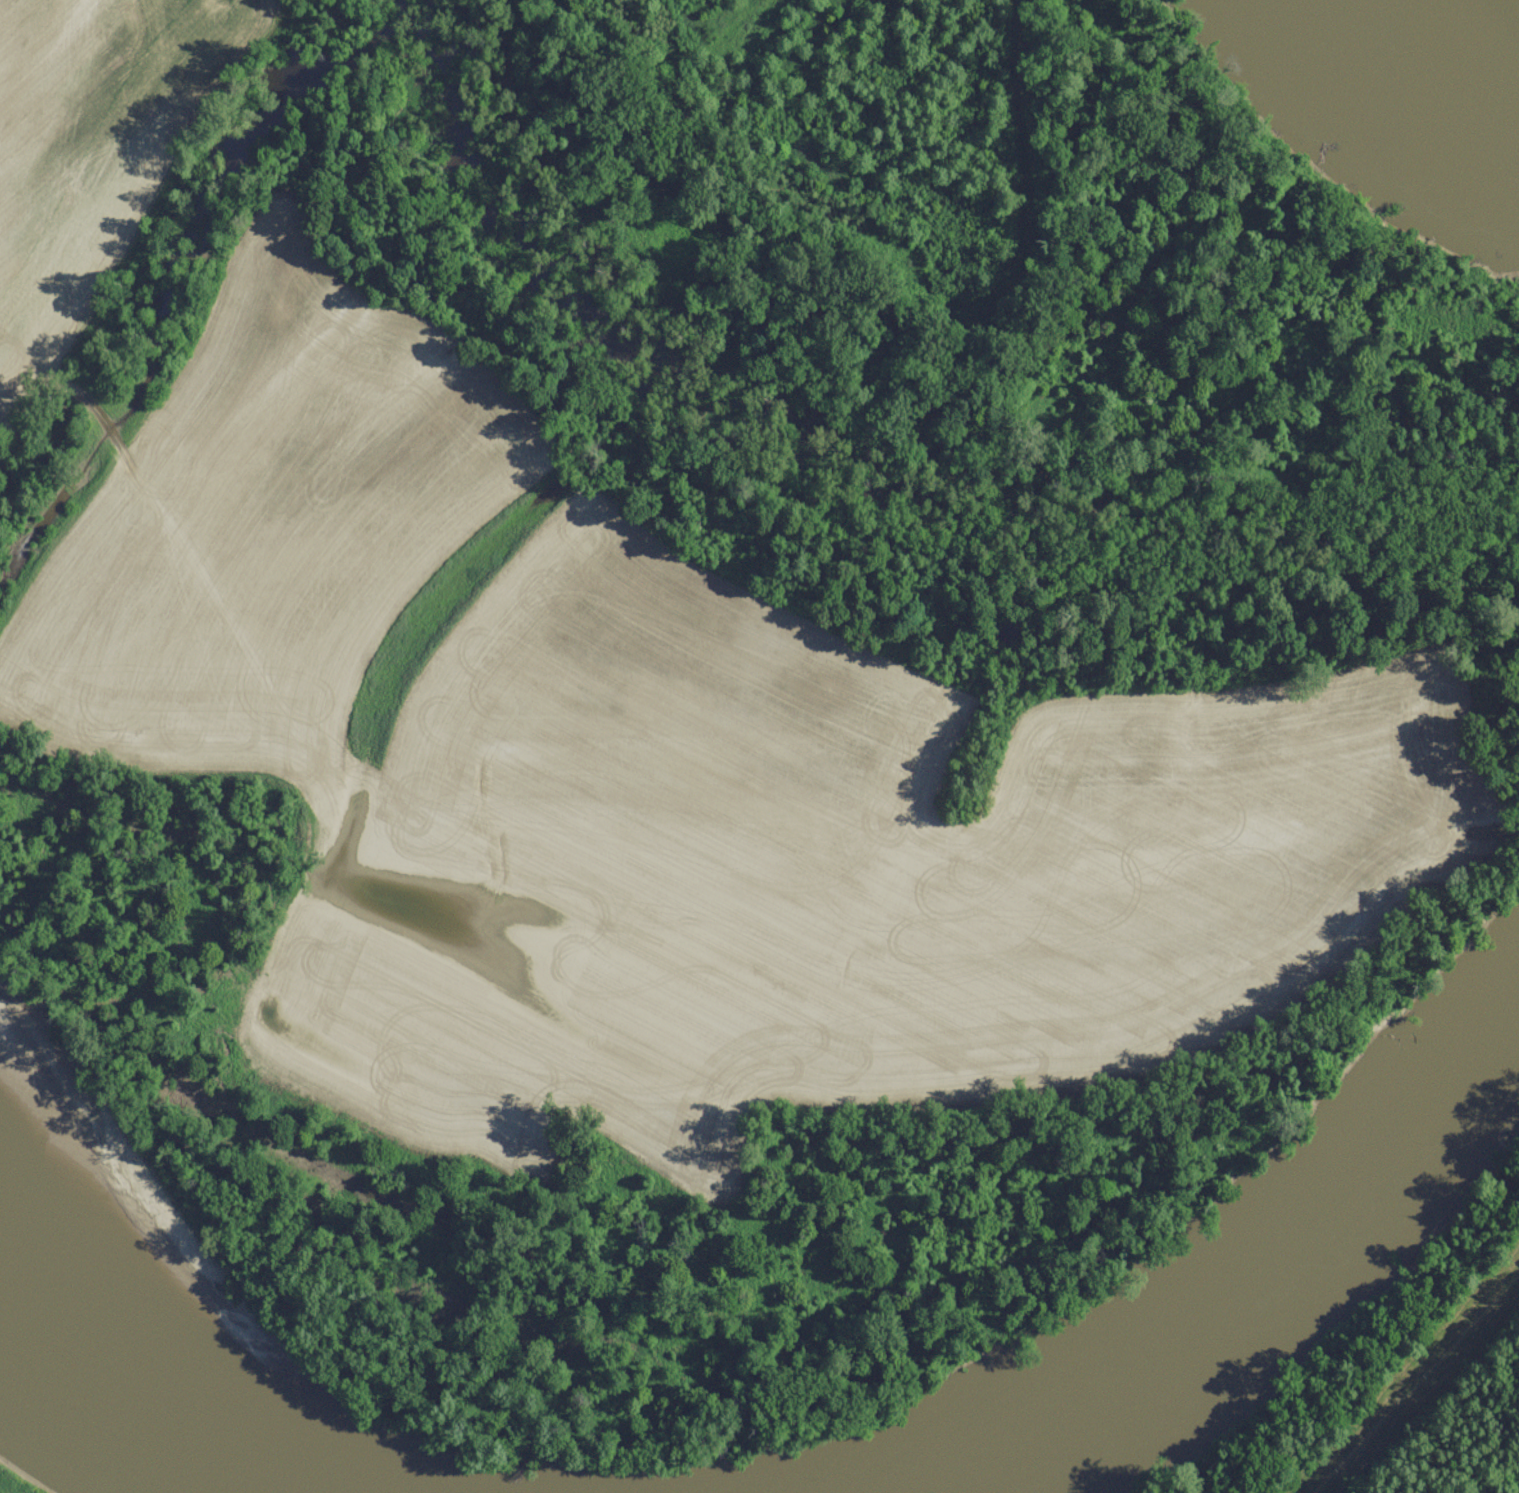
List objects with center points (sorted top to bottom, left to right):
river: (1433, 75)
road: (78, 399)
river: (1251, 1289)
river: (133, 1334)

